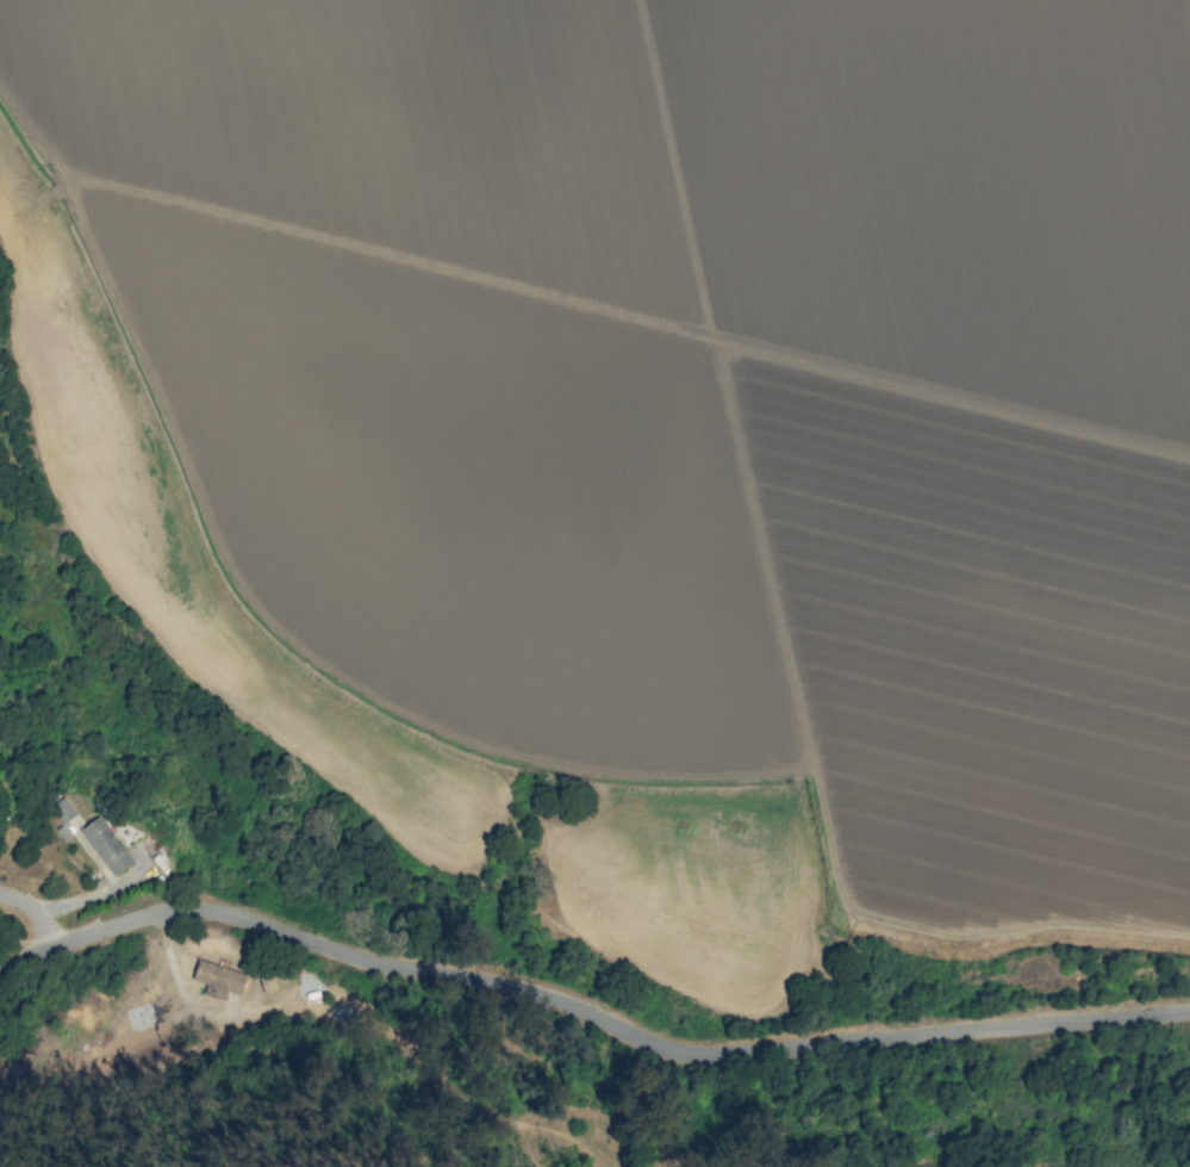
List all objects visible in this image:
crop: (658, 441)
building: (106, 845)
road: (35, 919)
building: (218, 979)
road: (588, 1013)

